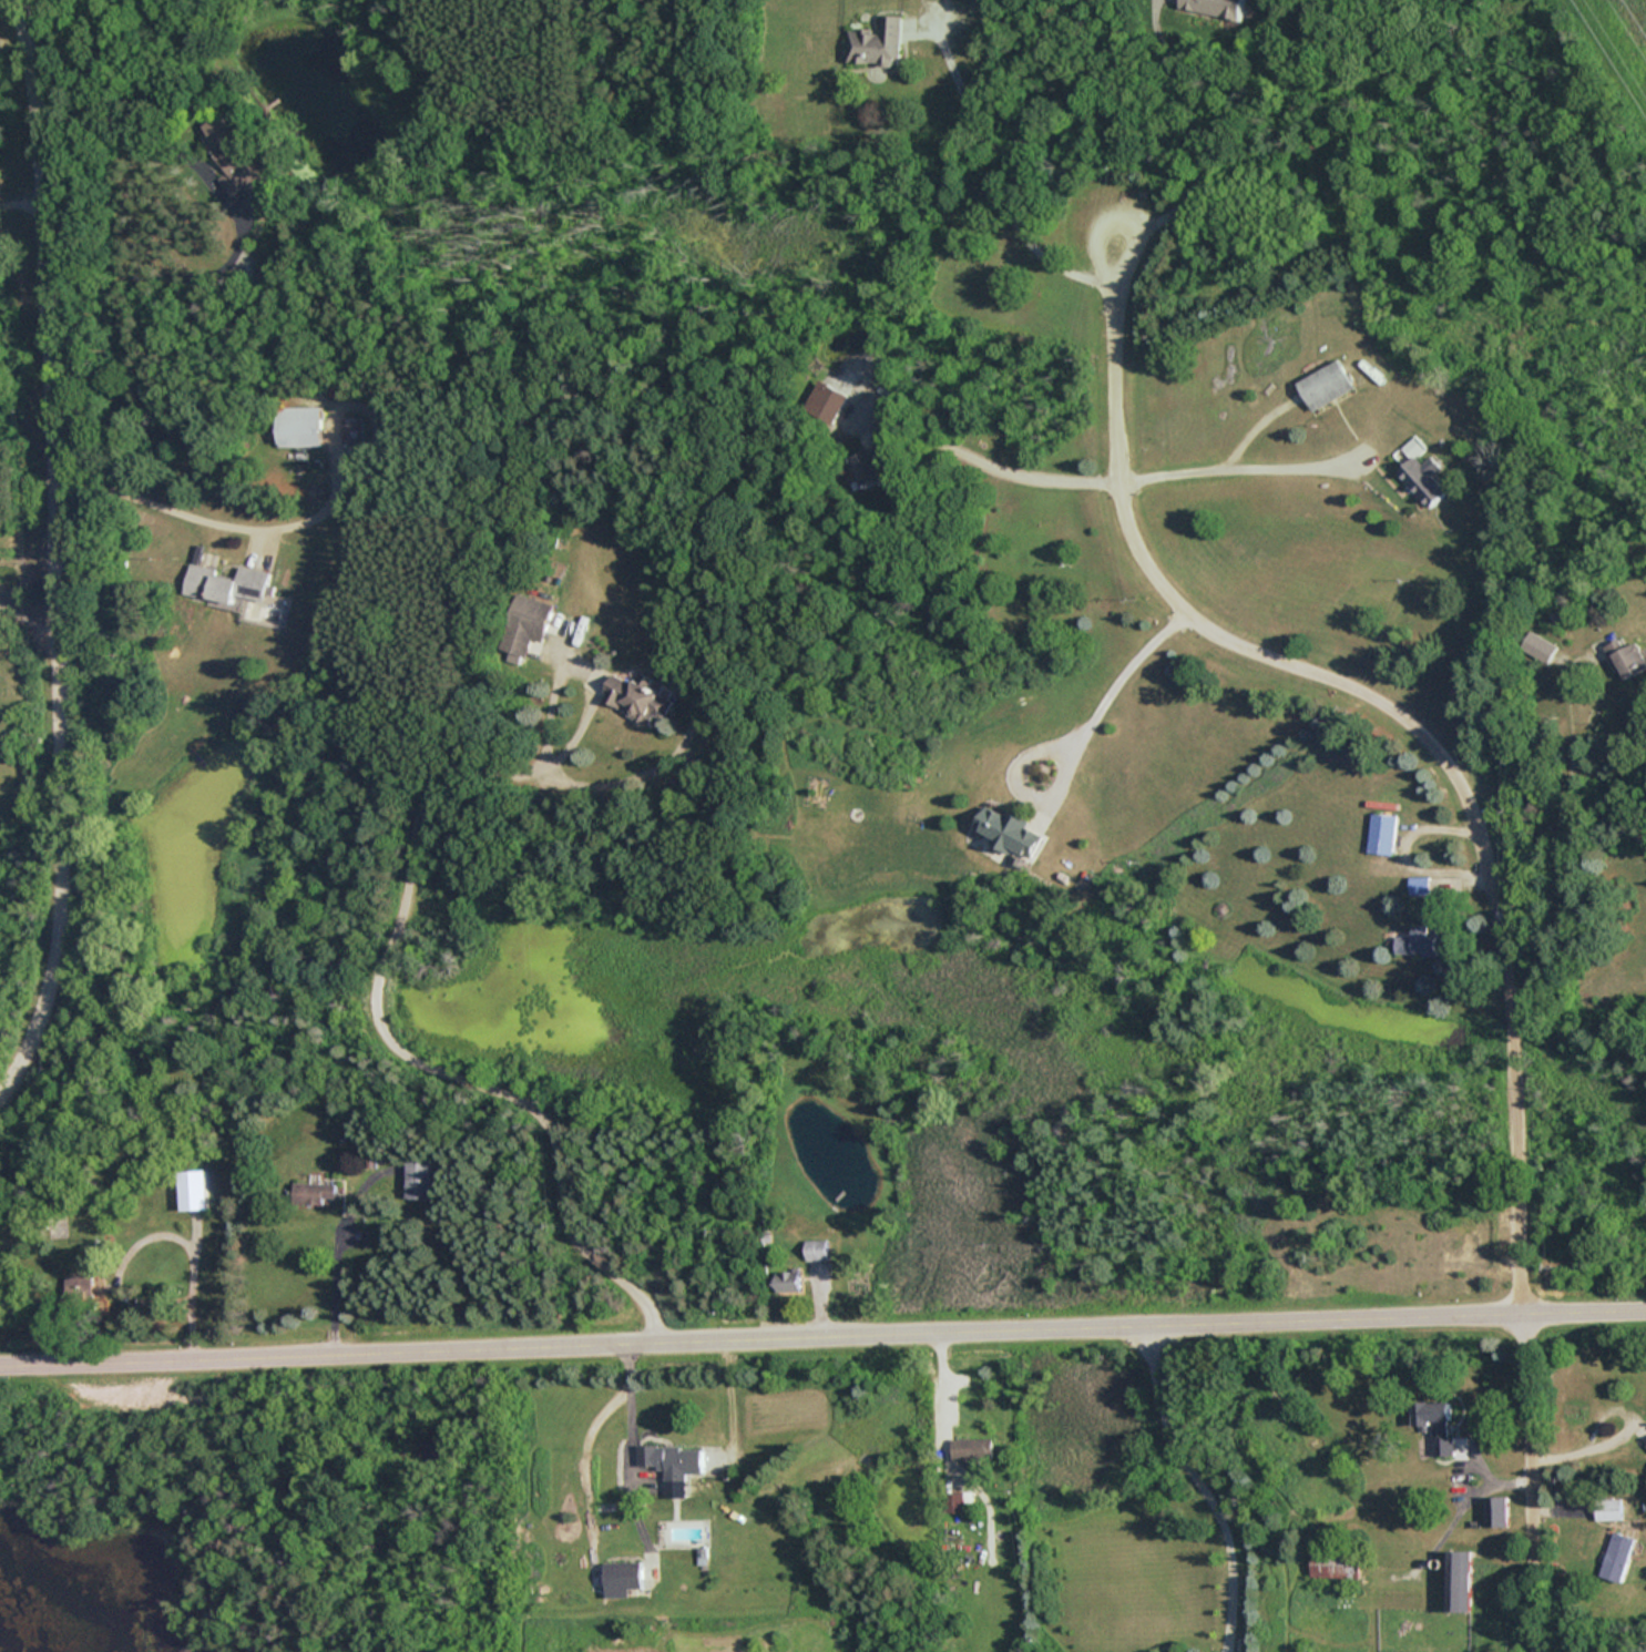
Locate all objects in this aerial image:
building: (1214, 7)
building: (876, 42)
road: (1194, 134)
building: (229, 151)
road: (990, 194)
road: (18, 207)
road: (238, 217)
building: (1325, 385)
building: (825, 402)
building: (295, 426)
building: (351, 429)
building: (867, 468)
road: (1235, 469)
road: (996, 470)
building: (1420, 480)
road: (218, 523)
road: (50, 558)
building: (224, 584)
road: (27, 614)
building: (524, 624)
building: (1537, 647)
building: (1626, 657)
building: (637, 700)
road: (1074, 734)
road: (1491, 822)
building: (1009, 832)
building: (1382, 834)
road: (1571, 849)
building: (1420, 885)
building: (1415, 940)
road: (376, 1022)
building: (421, 1180)
building: (195, 1190)
building: (316, 1193)
building: (815, 1250)
building: (786, 1281)
road: (337, 1286)
road: (822, 1335)
road: (934, 1388)
building: (1431, 1414)
building: (1644, 1442)
road: (631, 1448)
building: (970, 1450)
road: (1583, 1455)
building: (671, 1460)
road: (1489, 1486)
road: (1199, 1487)
building: (955, 1501)
park: (257, 1507)
building: (1607, 1508)
building: (1494, 1510)
building: (1616, 1556)
building: (1336, 1564)
building: (623, 1578)
building: (1456, 1580)

